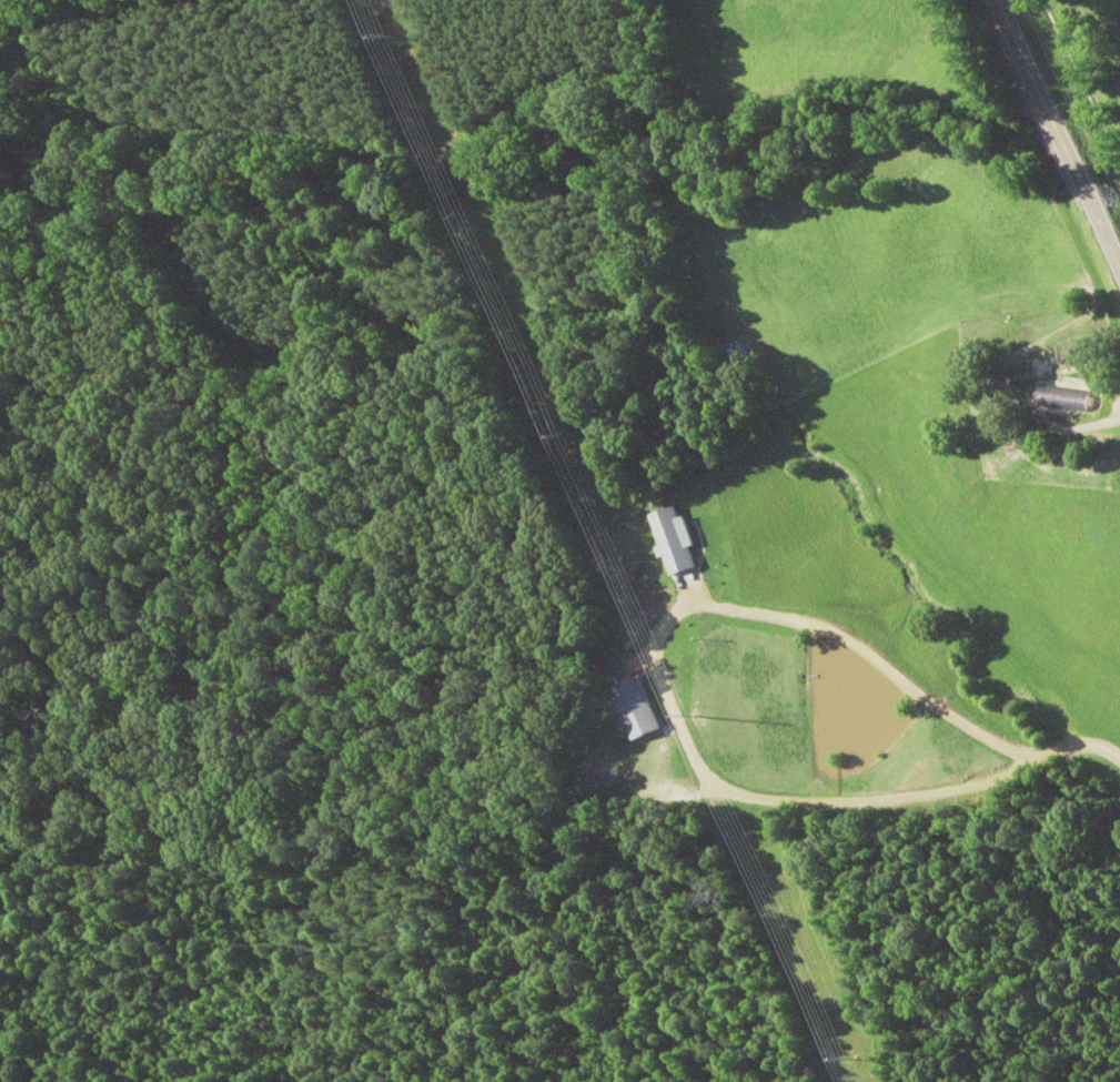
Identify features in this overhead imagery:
road: (1048, 154)
building: (733, 358)
building: (1062, 404)
building: (673, 539)
building: (635, 708)

